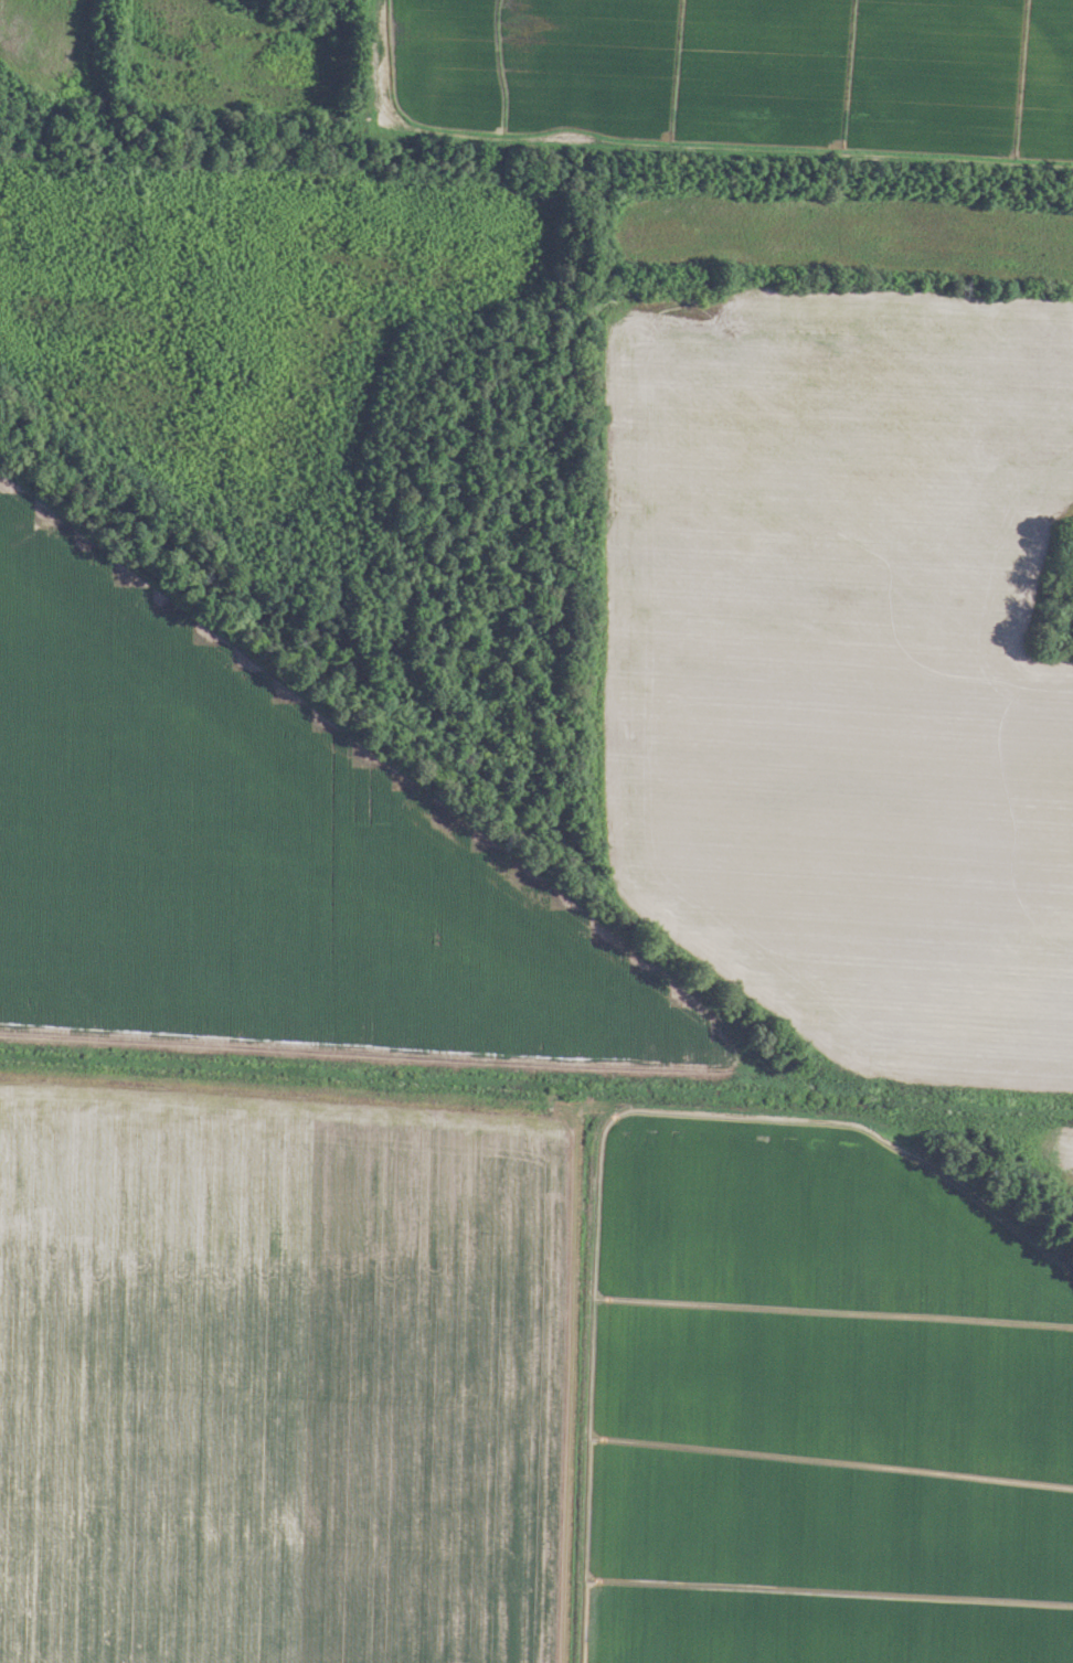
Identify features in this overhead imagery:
road: (562, 1109)

